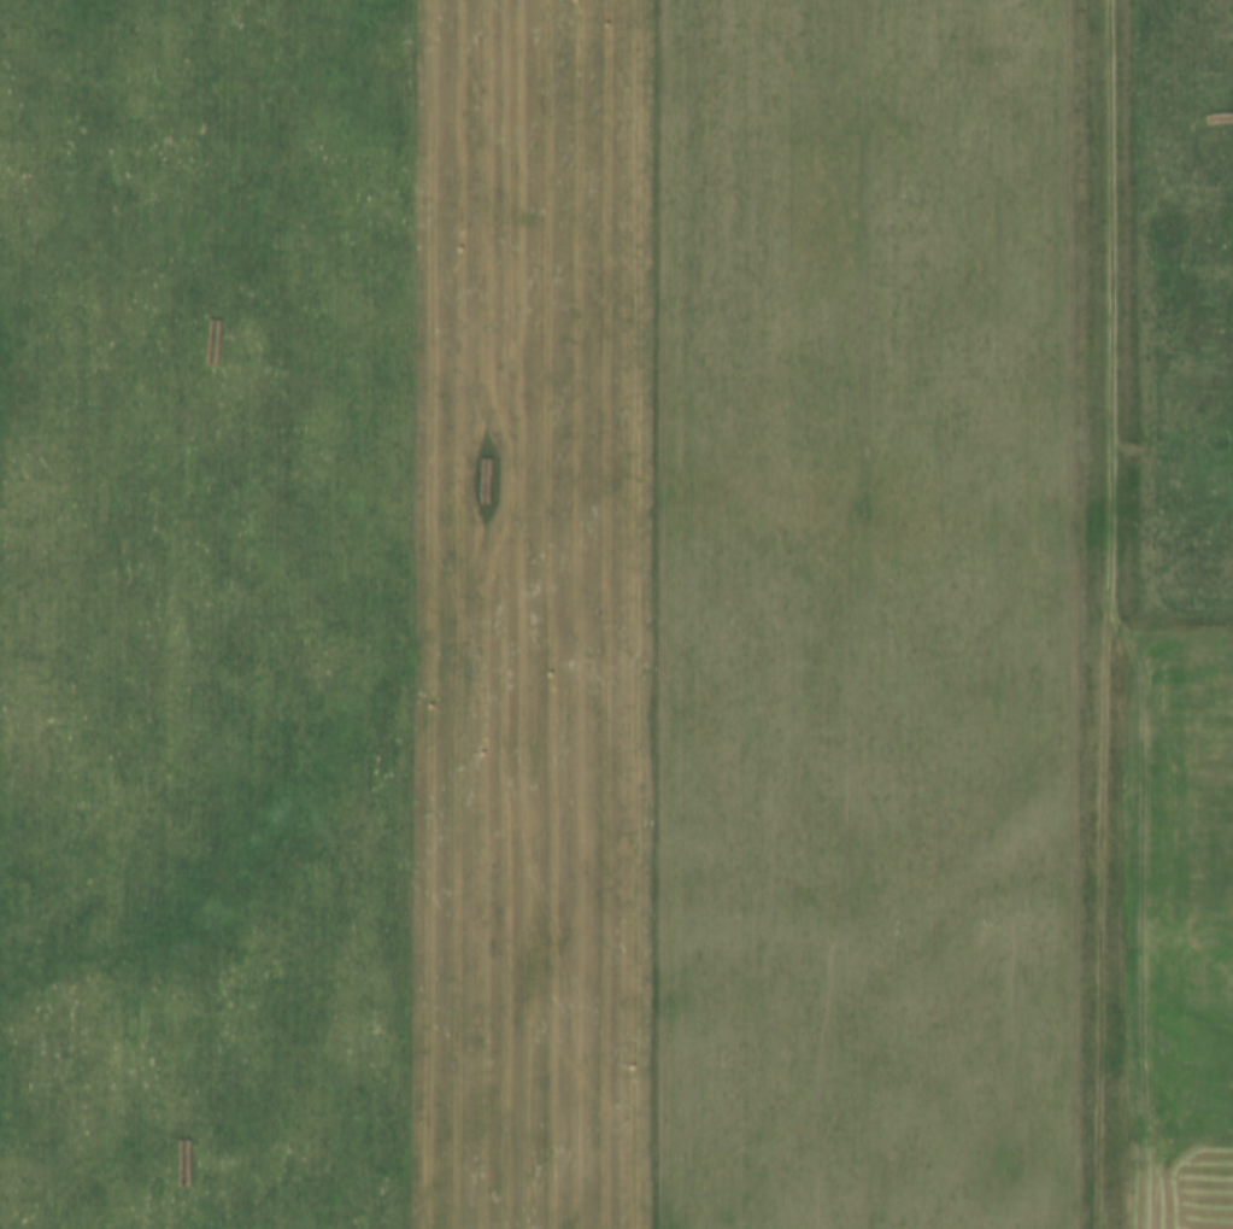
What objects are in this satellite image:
road: (1115, 614)

